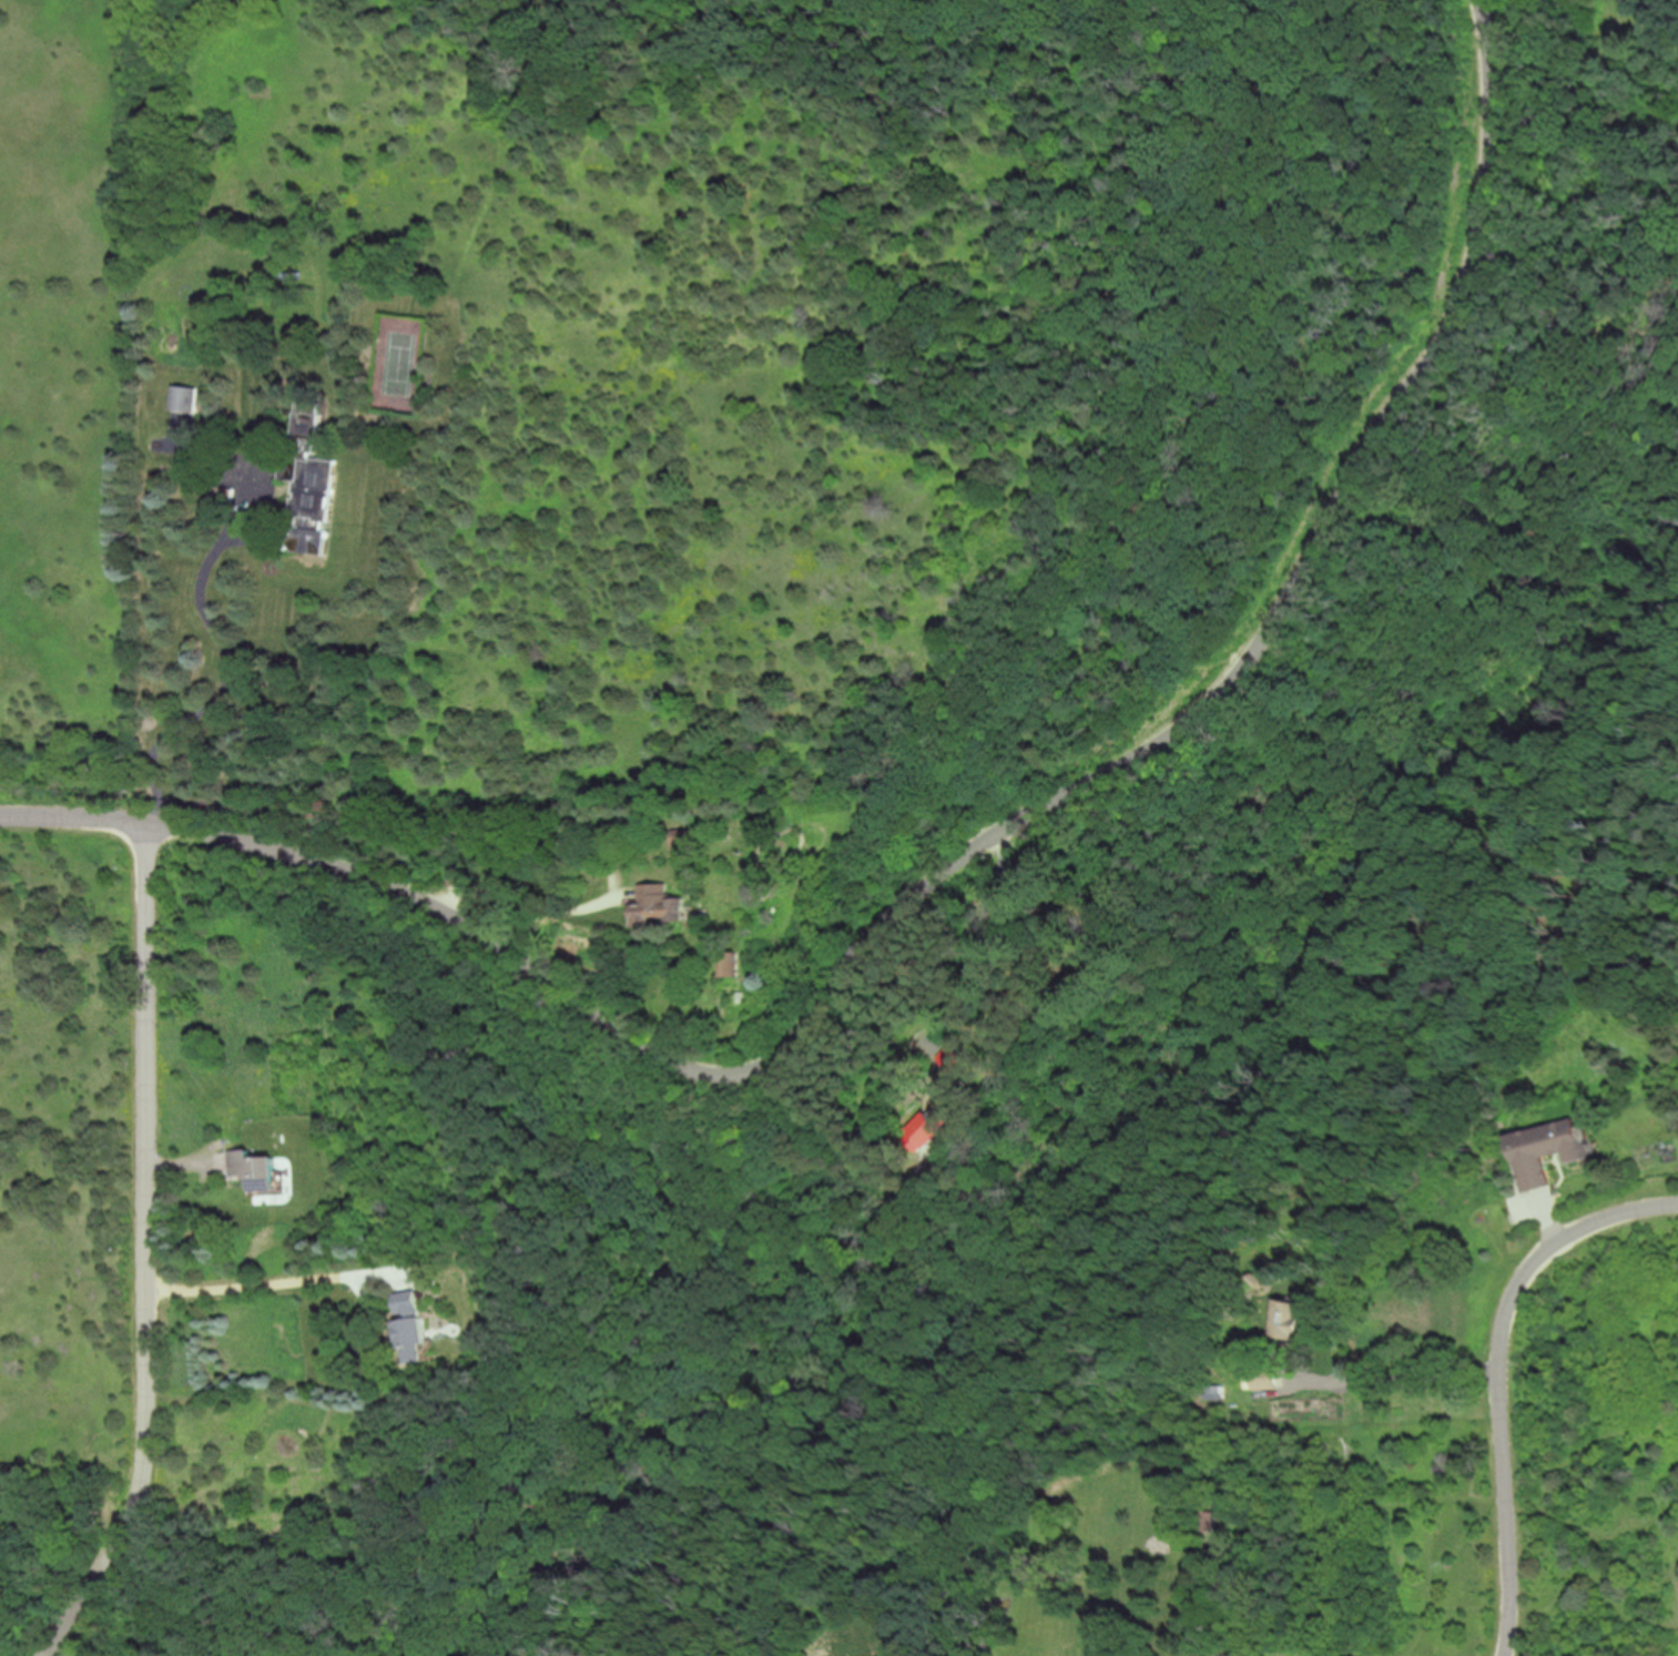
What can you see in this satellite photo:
building: (183, 399)
building: (307, 487)
building: (222, 496)
road: (231, 666)
building: (682, 846)
road: (946, 871)
building: (659, 905)
road: (450, 918)
road: (540, 920)
road: (976, 958)
building: (732, 964)
building: (932, 1128)
building: (1547, 1149)
building: (252, 1169)
park: (72, 1239)
road: (145, 1249)
road: (275, 1280)
building: (1291, 1318)
building: (411, 1332)
road: (1395, 1376)
road: (1501, 1376)
building: (1265, 1381)

